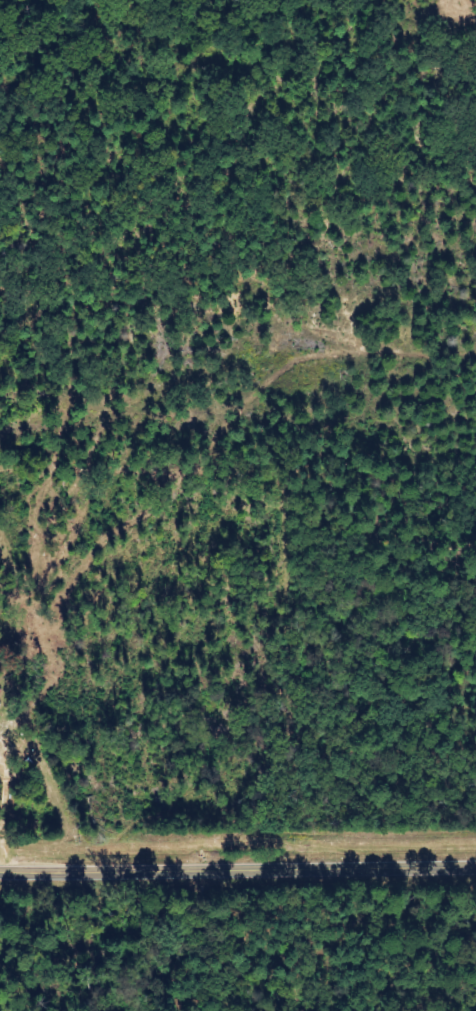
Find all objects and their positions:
road: (238, 870)
road: (155, 896)
road: (271, 922)

